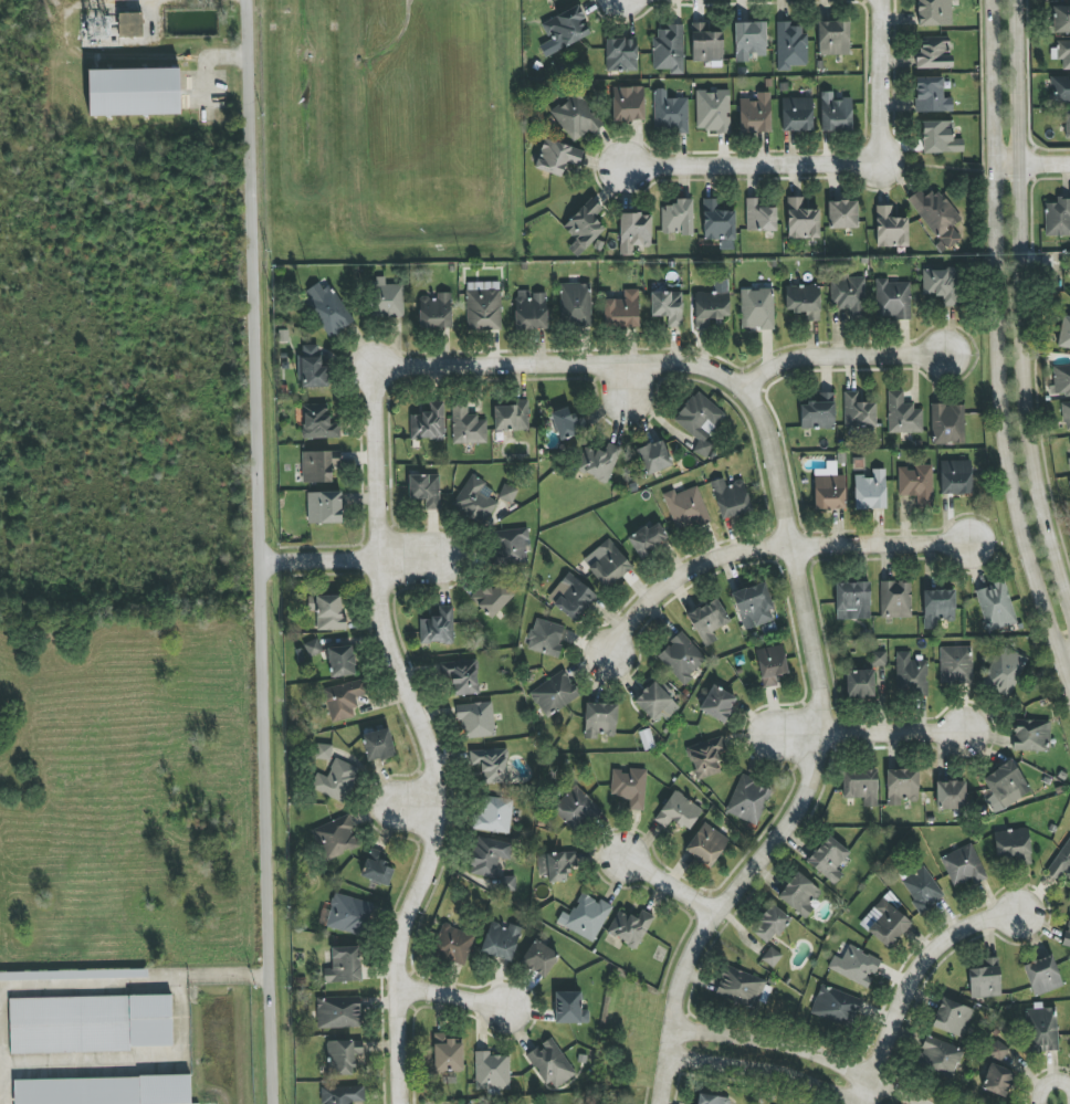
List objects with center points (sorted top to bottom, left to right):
building: (934, 12)
building: (1061, 19)
building: (130, 24)
building: (566, 27)
building: (833, 38)
building: (749, 40)
building: (705, 44)
building: (790, 45)
building: (669, 49)
building: (933, 53)
building: (1063, 53)
building: (621, 55)
building: (1060, 90)
building: (134, 92)
building: (931, 95)
building: (628, 104)
building: (713, 111)
building: (670, 113)
building: (835, 113)
building: (755, 114)
building: (797, 114)
building: (576, 116)
building: (1067, 125)
building: (940, 138)
building: (556, 157)
road: (1031, 160)
road: (826, 164)
building: (842, 214)
building: (759, 217)
building: (937, 217)
building: (678, 218)
building: (1058, 218)
building: (801, 220)
building: (718, 224)
building: (584, 227)
building: (890, 228)
building: (633, 232)
building: (941, 285)
building: (849, 296)
building: (387, 298)
building: (892, 299)
building: (804, 301)
road: (1024, 303)
building: (575, 305)
building: (712, 305)
building: (483, 306)
building: (668, 307)
building: (756, 308)
building: (327, 309)
building: (531, 311)
building: (621, 311)
building: (434, 312)
building: (1064, 333)
road: (998, 348)
road: (839, 353)
road: (554, 360)
building: (312, 367)
building: (1060, 381)
building: (818, 412)
building: (858, 412)
building: (902, 414)
building: (512, 417)
building: (1066, 417)
building: (700, 421)
building: (318, 422)
building: (428, 423)
building: (567, 423)
building: (947, 424)
building: (466, 425)
building: (653, 458)
building: (598, 462)
building: (1069, 463)
building: (318, 465)
building: (955, 477)
building: (916, 484)
building: (1069, 485)
building: (829, 488)
building: (424, 490)
building: (870, 491)
building: (507, 493)
building: (731, 498)
building: (475, 500)
building: (324, 507)
building: (685, 508)
building: (647, 539)
building: (513, 546)
road: (767, 549)
road: (258, 551)
road: (343, 561)
building: (607, 564)
building: (491, 598)
building: (571, 598)
building: (895, 599)
building: (852, 600)
building: (754, 606)
building: (996, 606)
building: (937, 607)
building: (327, 612)
building: (707, 621)
building: (437, 628)
building: (545, 638)
building: (313, 648)
building: (682, 658)
building: (879, 658)
building: (342, 661)
building: (770, 664)
building: (955, 665)
road: (1064, 669)
building: (1005, 671)
building: (910, 675)
building: (461, 676)
building: (860, 683)
building: (554, 694)
building: (344, 700)
building: (655, 702)
building: (718, 704)
building: (475, 721)
building: (600, 721)
road: (856, 723)
building: (1030, 735)
building: (378, 745)
building: (323, 751)
road: (429, 751)
building: (705, 757)
road: (811, 760)
building: (490, 765)
building: (336, 780)
building: (860, 786)
building: (901, 786)
building: (1005, 787)
building: (629, 788)
building: (951, 796)
building: (748, 800)
road: (417, 807)
building: (574, 808)
building: (679, 811)
building: (494, 817)
building: (336, 838)
building: (706, 844)
building: (1011, 845)
building: (489, 858)
building: (828, 860)
building: (1060, 863)
building: (556, 865)
building: (963, 866)
building: (377, 868)
road: (679, 881)
building: (510, 883)
building: (922, 889)
building: (799, 895)
building: (349, 915)
building: (586, 917)
building: (884, 923)
building: (769, 924)
building: (629, 927)
building: (1067, 935)
building: (501, 940)
building: (453, 944)
building: (772, 957)
building: (539, 958)
building: (344, 965)
building: (854, 966)
road: (924, 967)
building: (74, 975)
building: (1042, 975)
building: (985, 979)
road: (134, 980)
building: (739, 987)
road: (454, 997)
building: (836, 1006)
building: (569, 1008)
building: (338, 1012)
building: (952, 1018)
building: (91, 1023)
building: (1041, 1030)
building: (998, 1050)
building: (447, 1054)
building: (343, 1056)
building: (938, 1056)
building: (552, 1064)
road: (781, 1064)
building: (491, 1071)
building: (997, 1080)
road: (1049, 1082)
building: (103, 1091)
building: (342, 1094)
building: (712, 1100)
road: (0, 1102)
building: (470, 1103)

